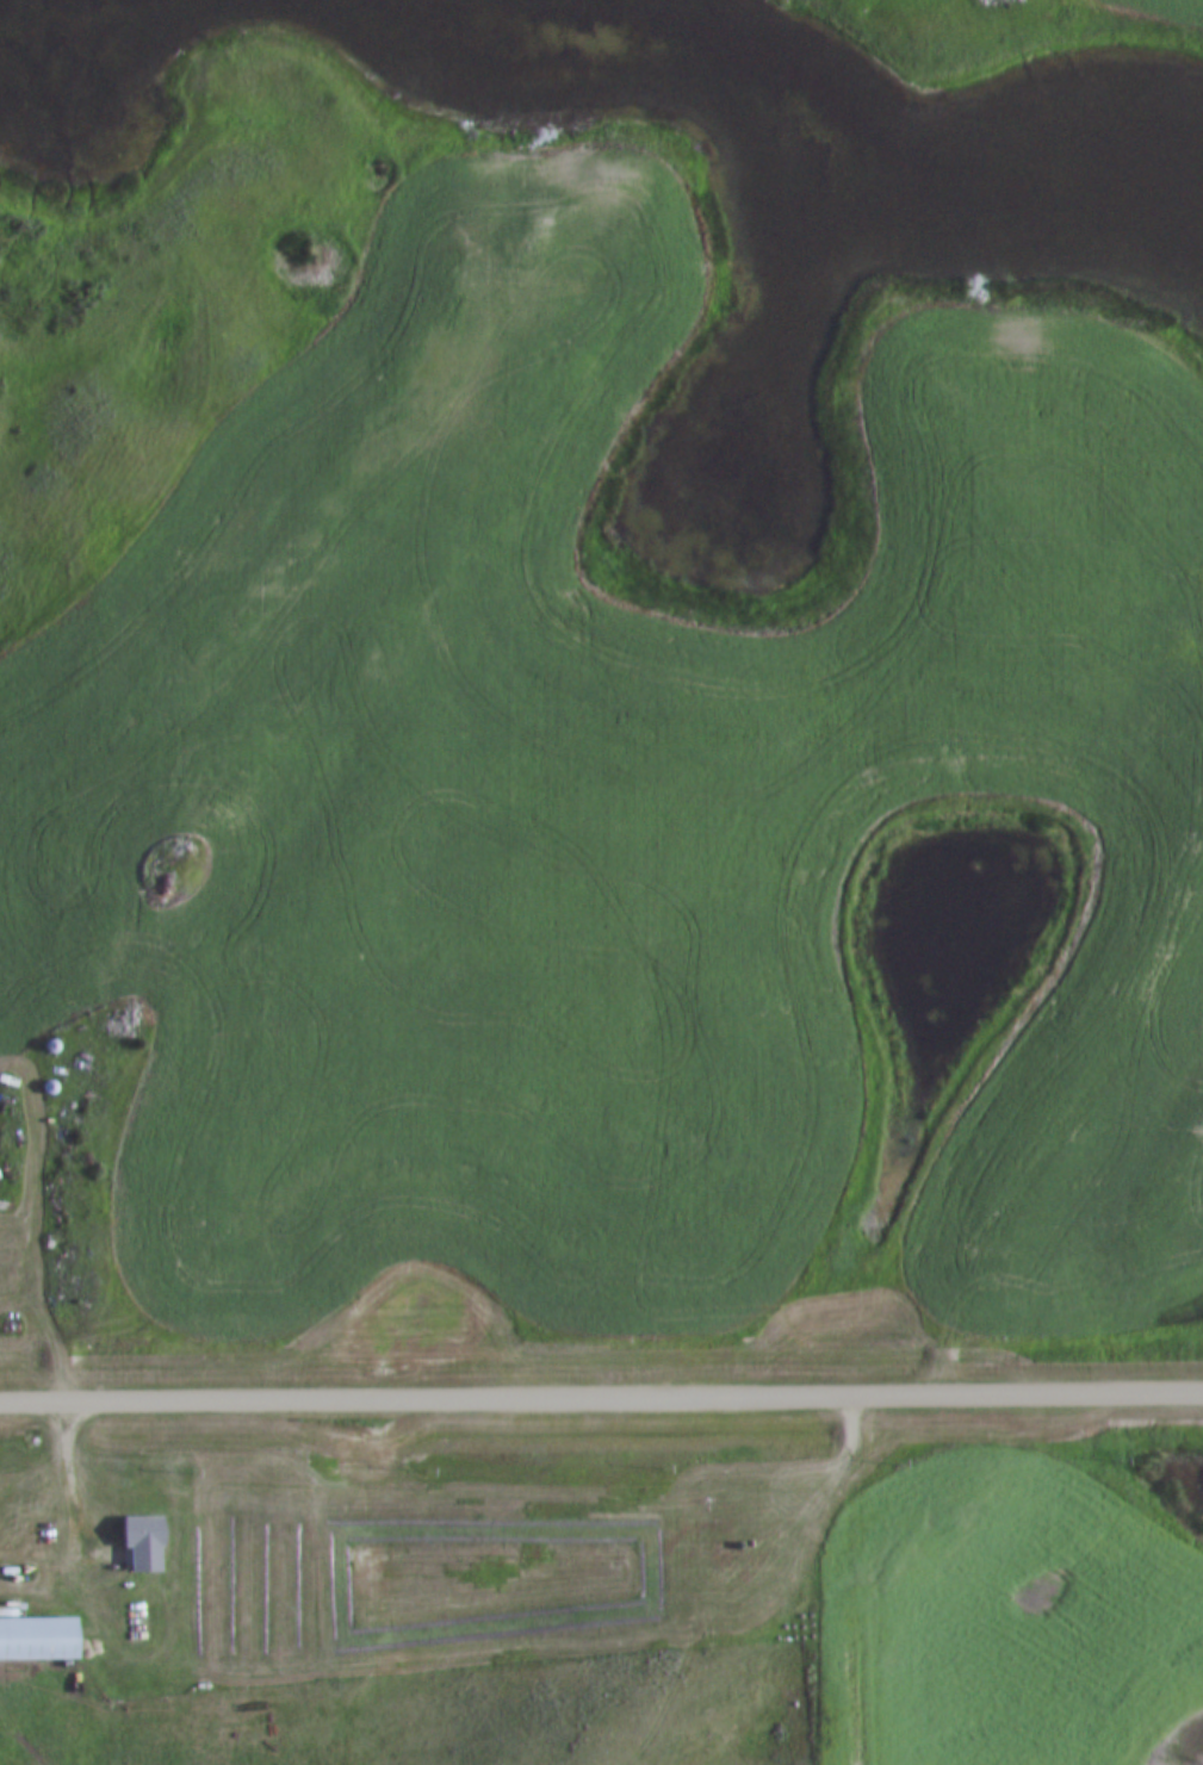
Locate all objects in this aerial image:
road: (601, 1393)
road: (73, 1481)
building: (147, 1546)
building: (36, 1642)

